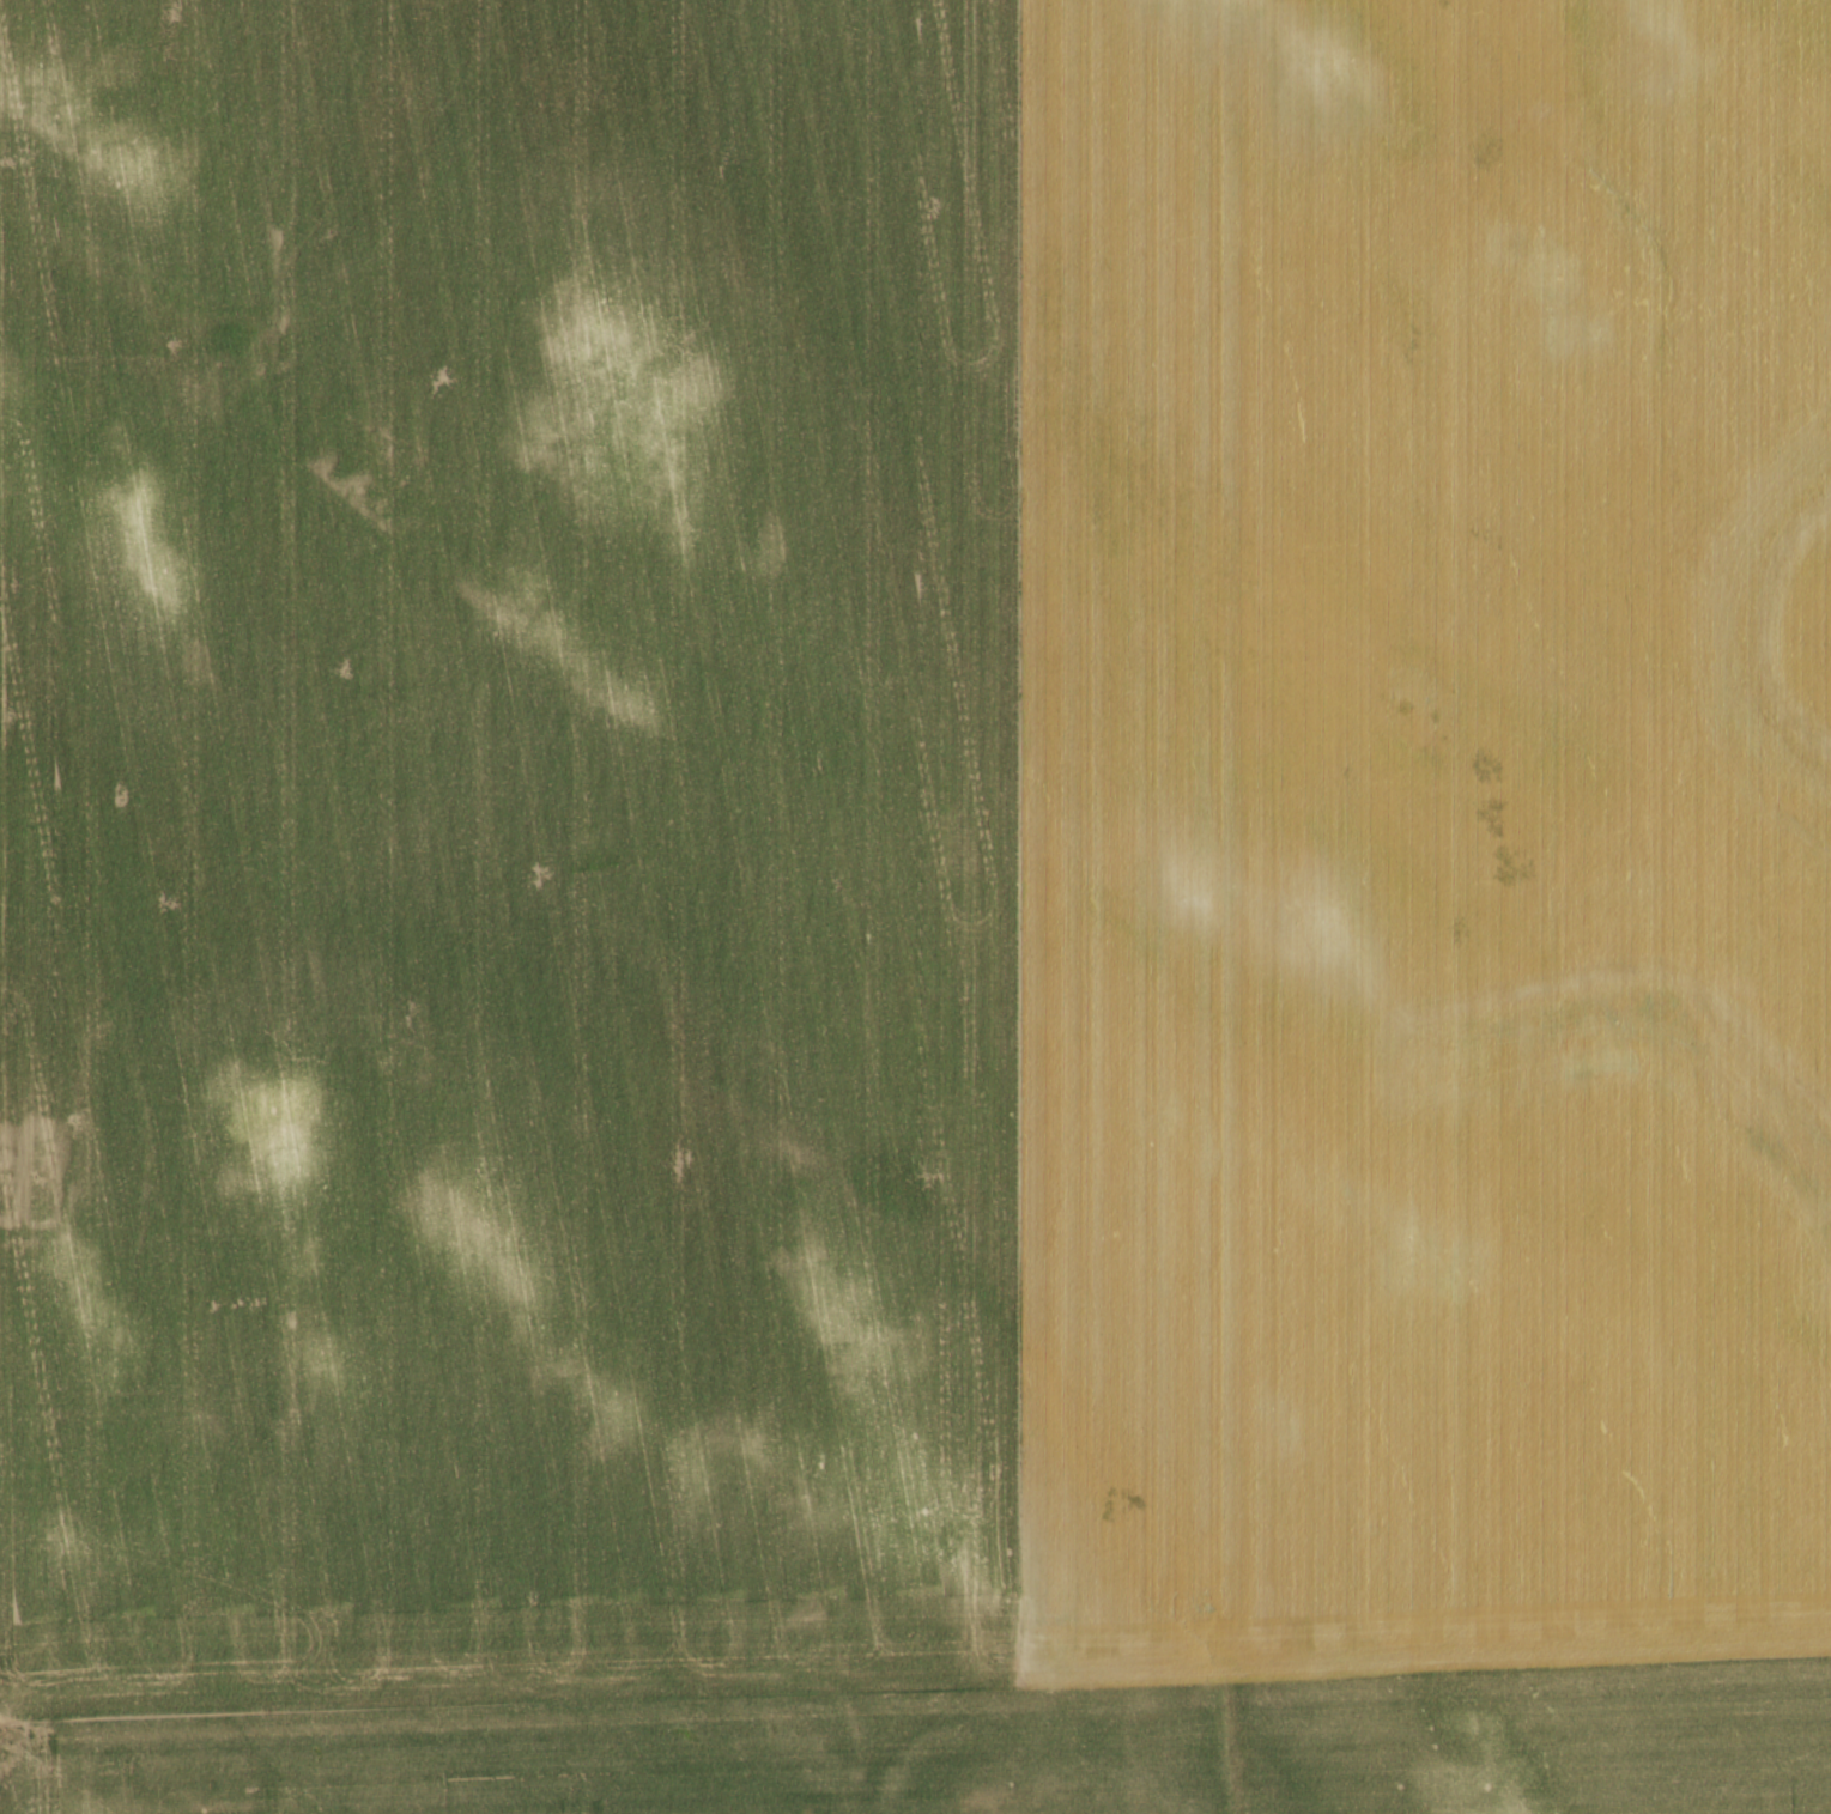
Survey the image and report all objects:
crop: (915, 906)

